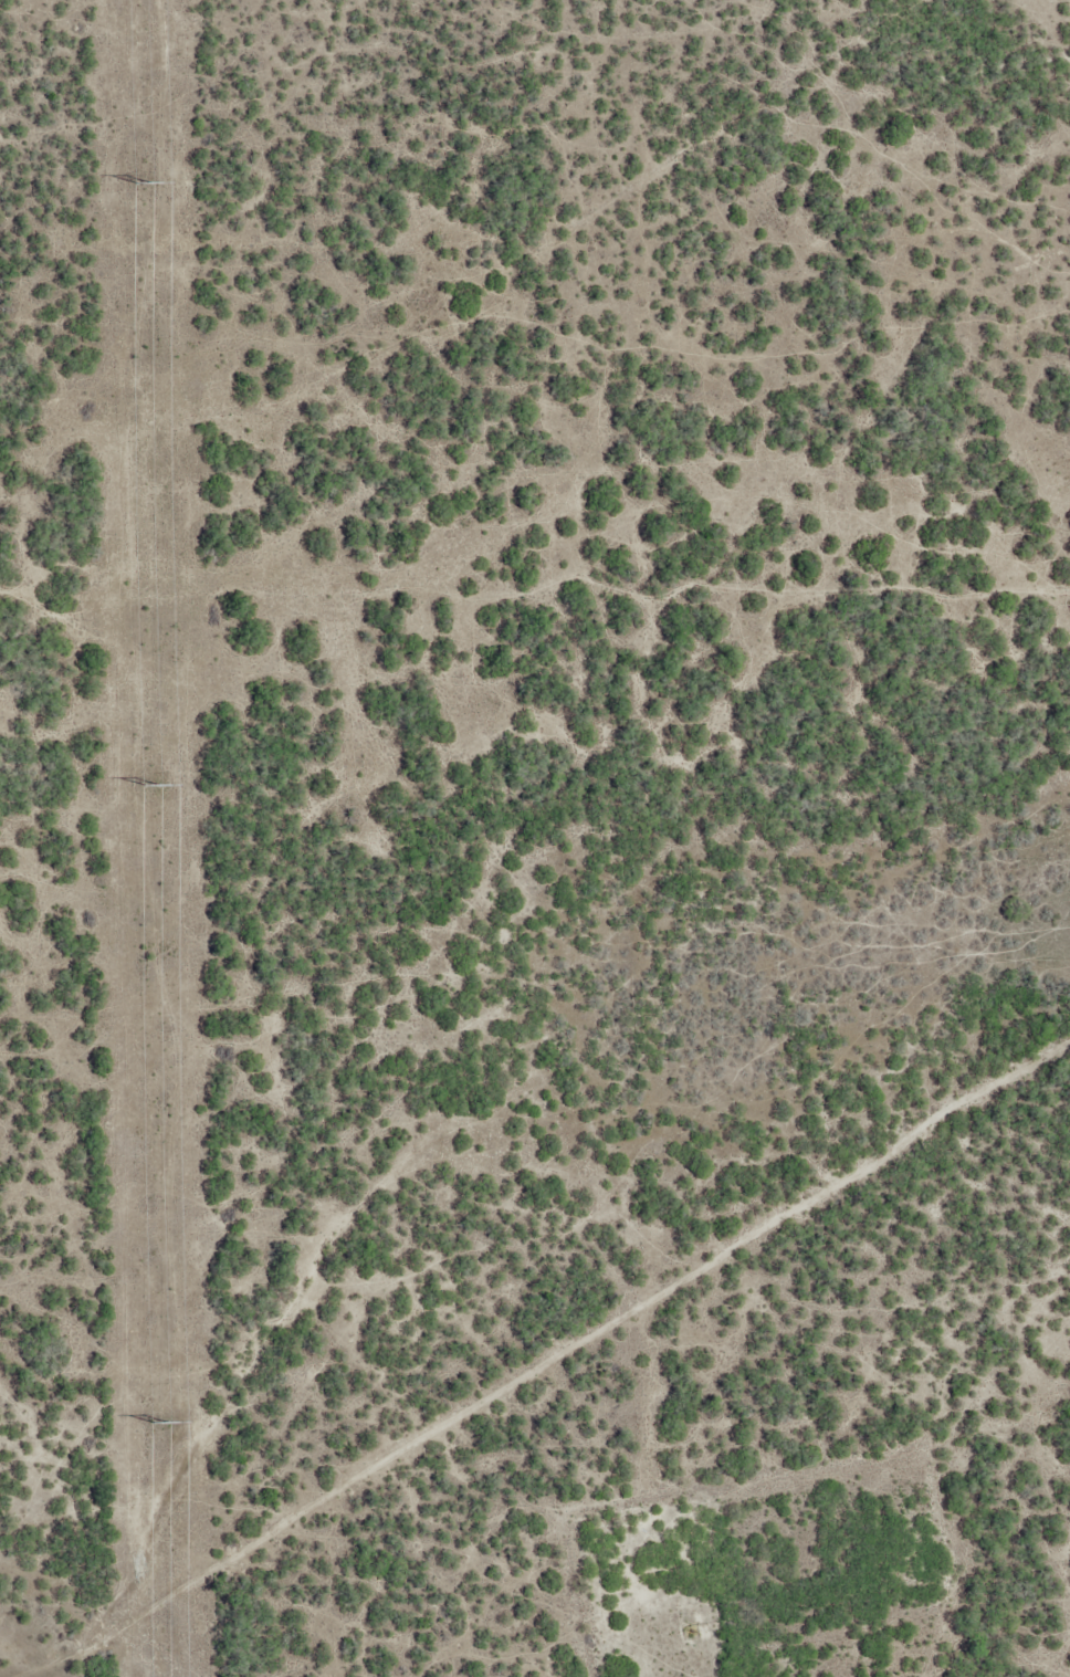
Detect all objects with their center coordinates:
power tower: (149, 182)
power tower: (153, 782)
power tower: (160, 1423)

